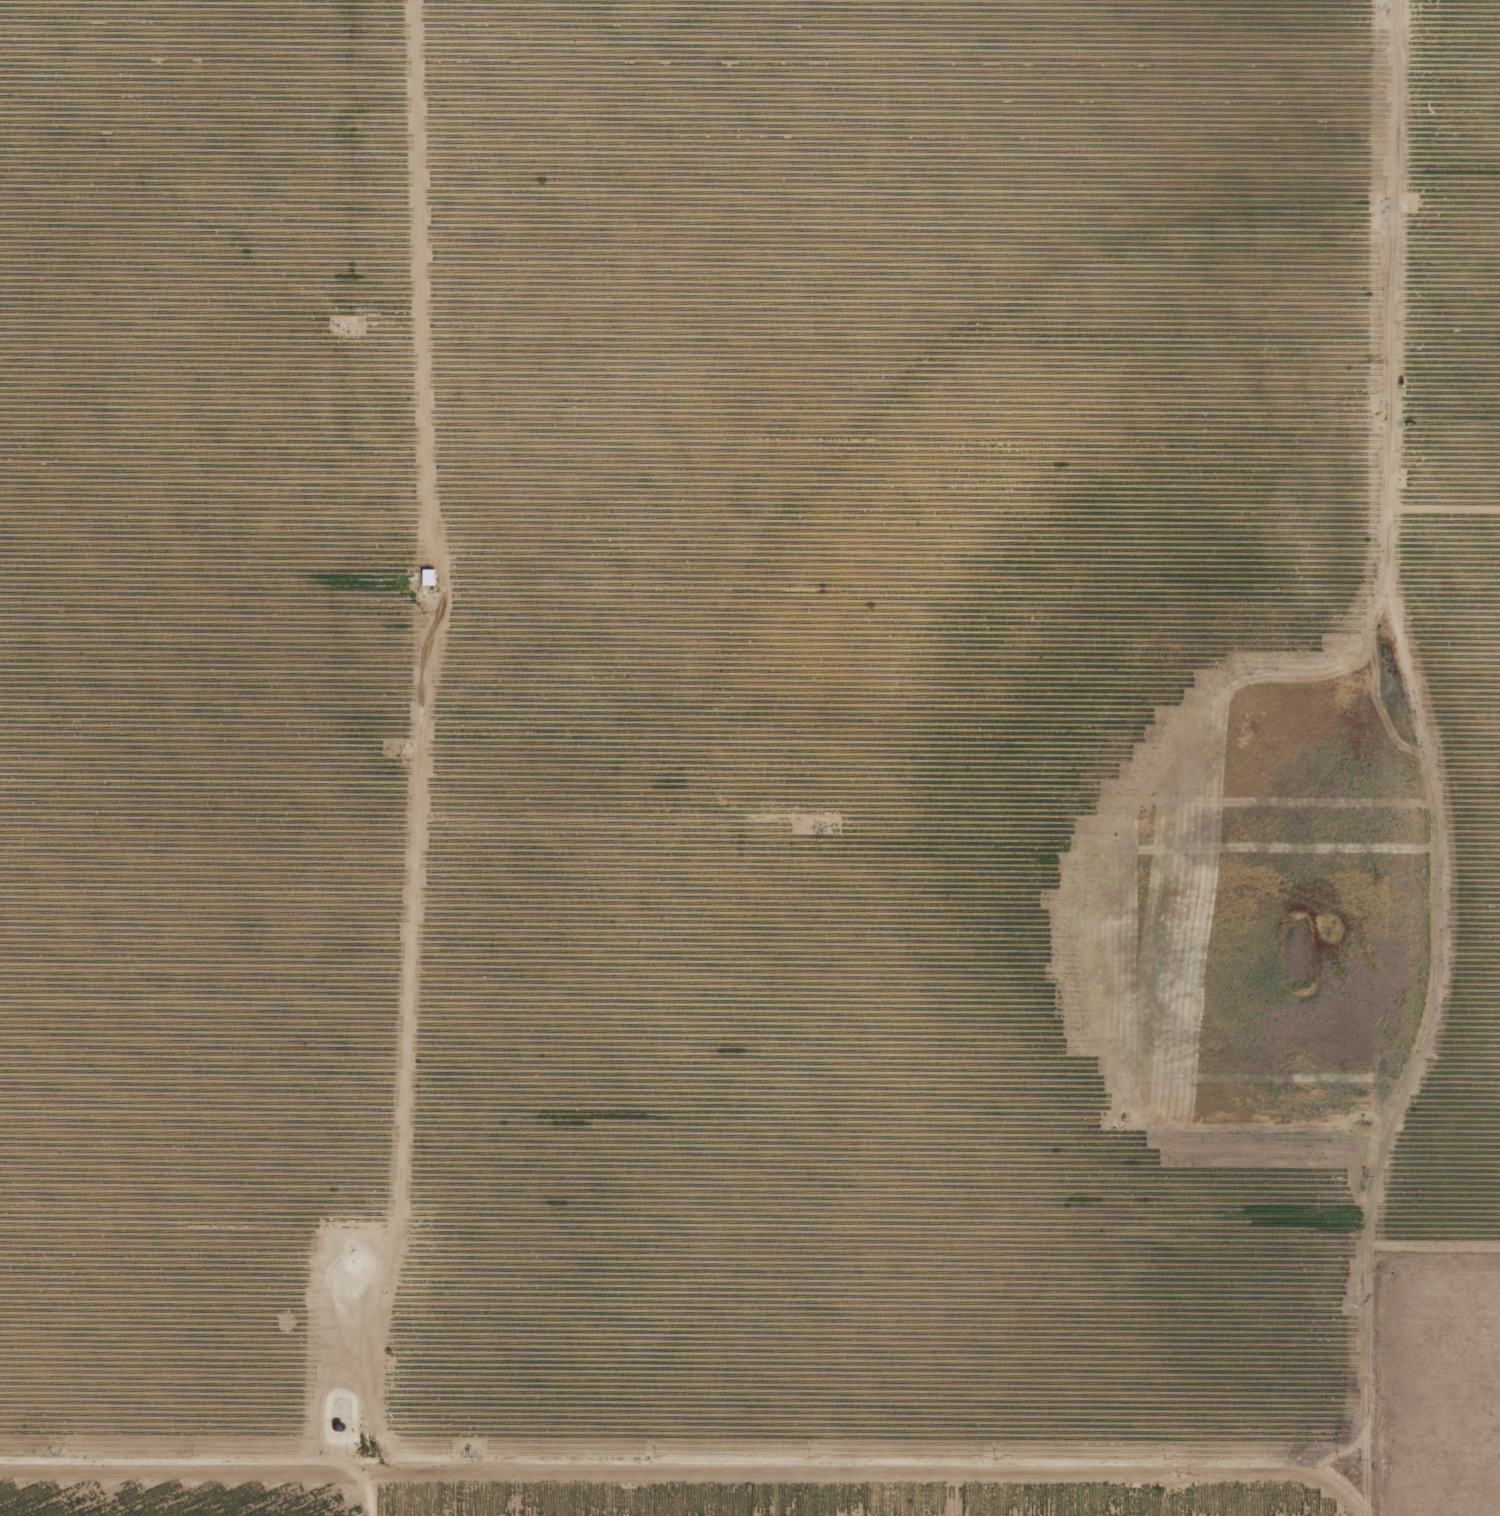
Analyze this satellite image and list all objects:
road: (38, 1457)
road: (720, 1467)

